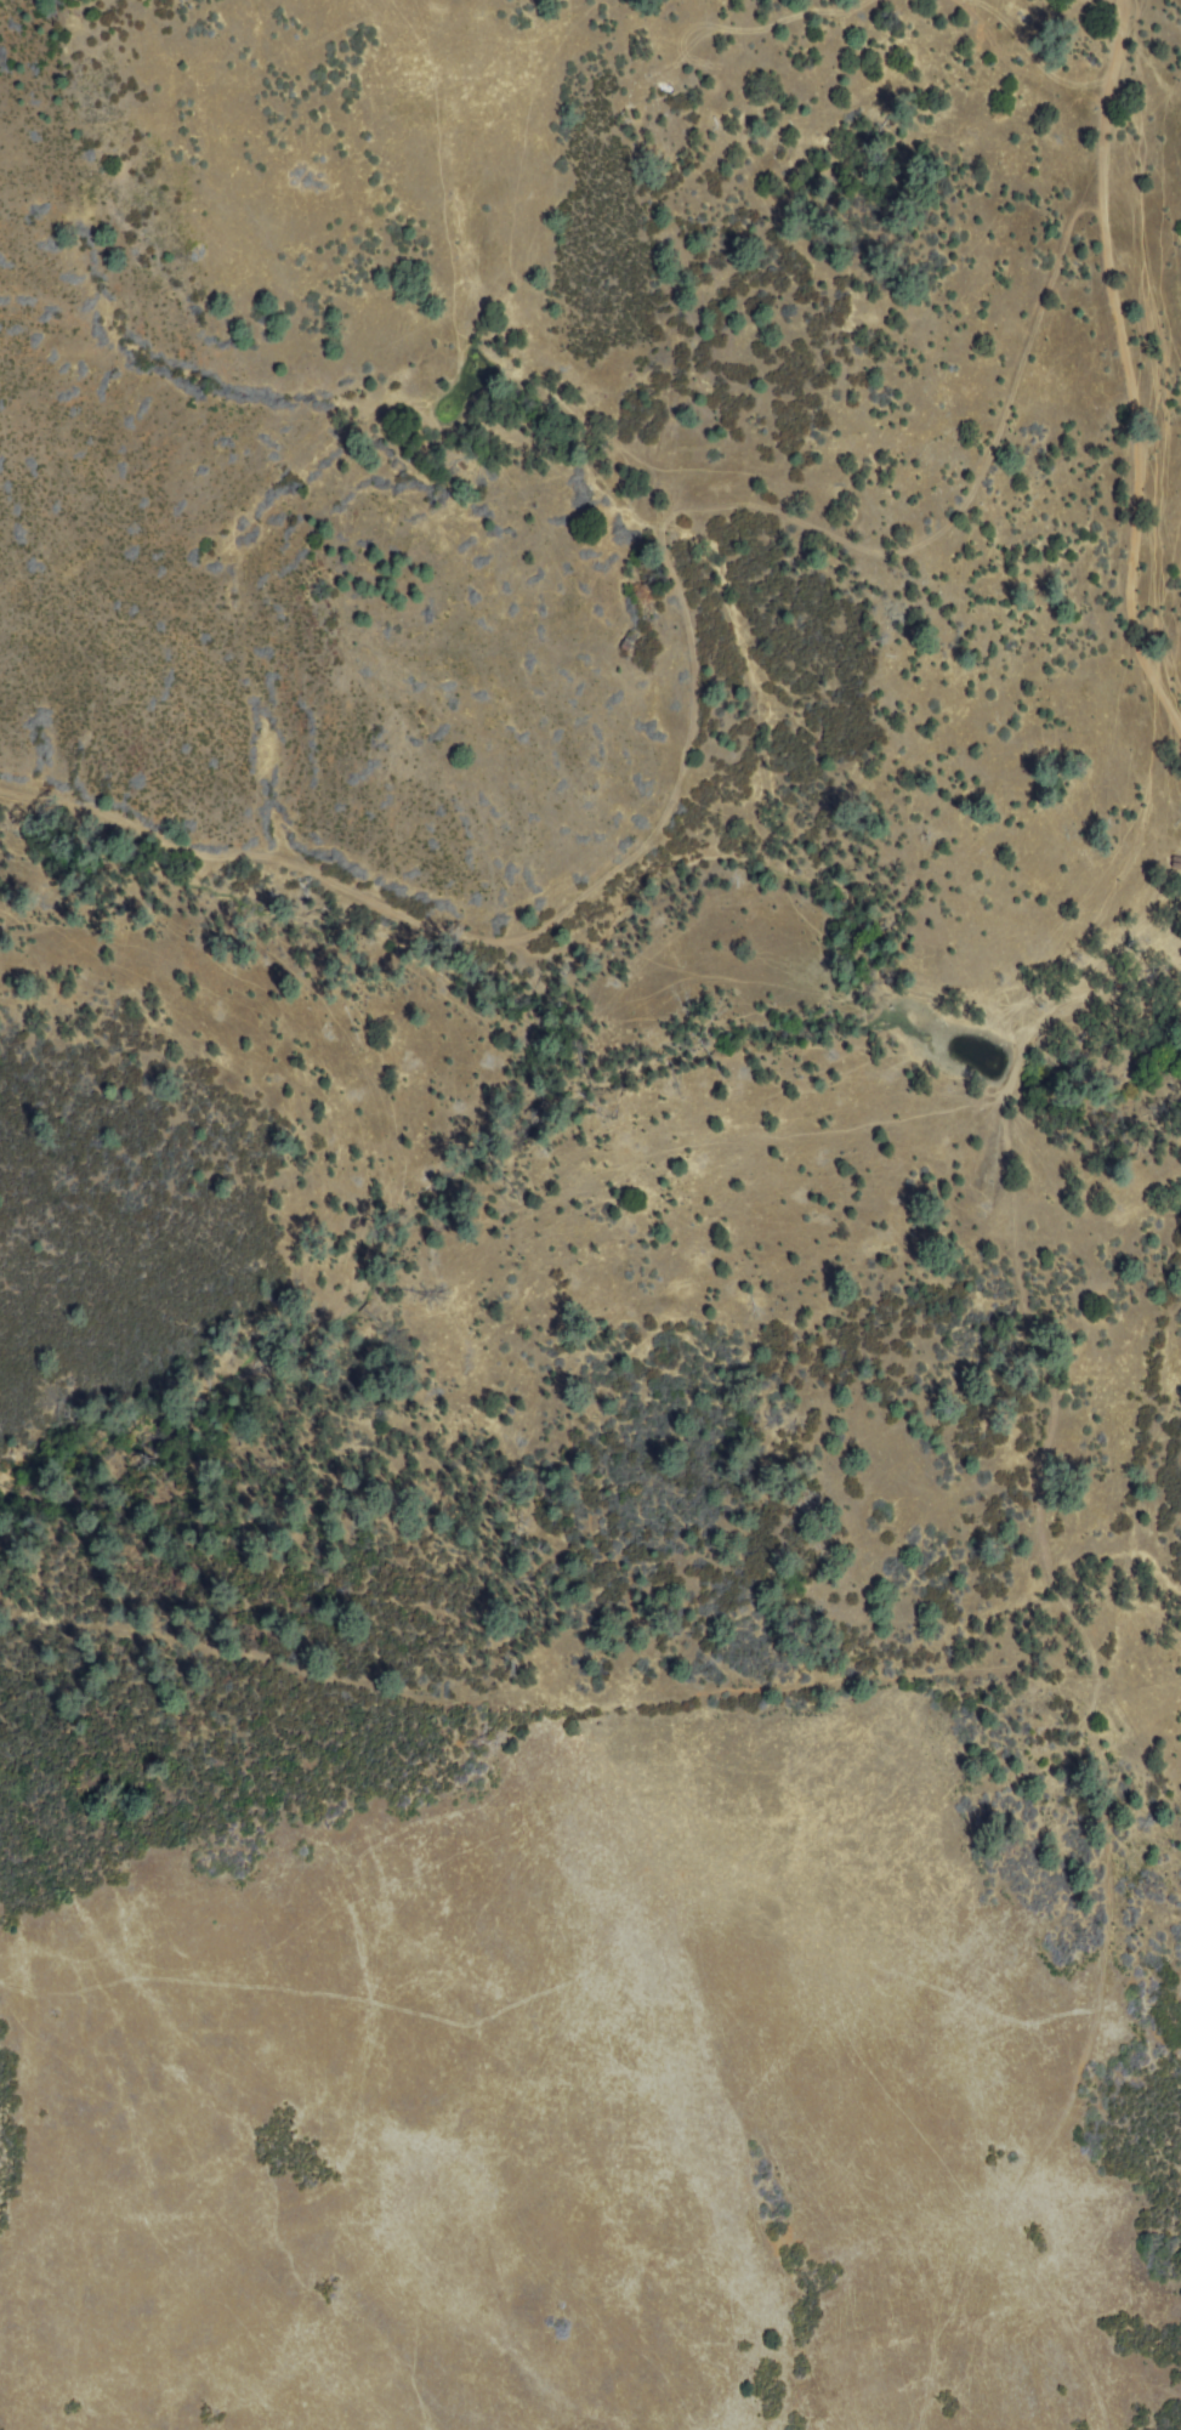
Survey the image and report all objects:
road: (1131, 364)
road: (698, 705)

